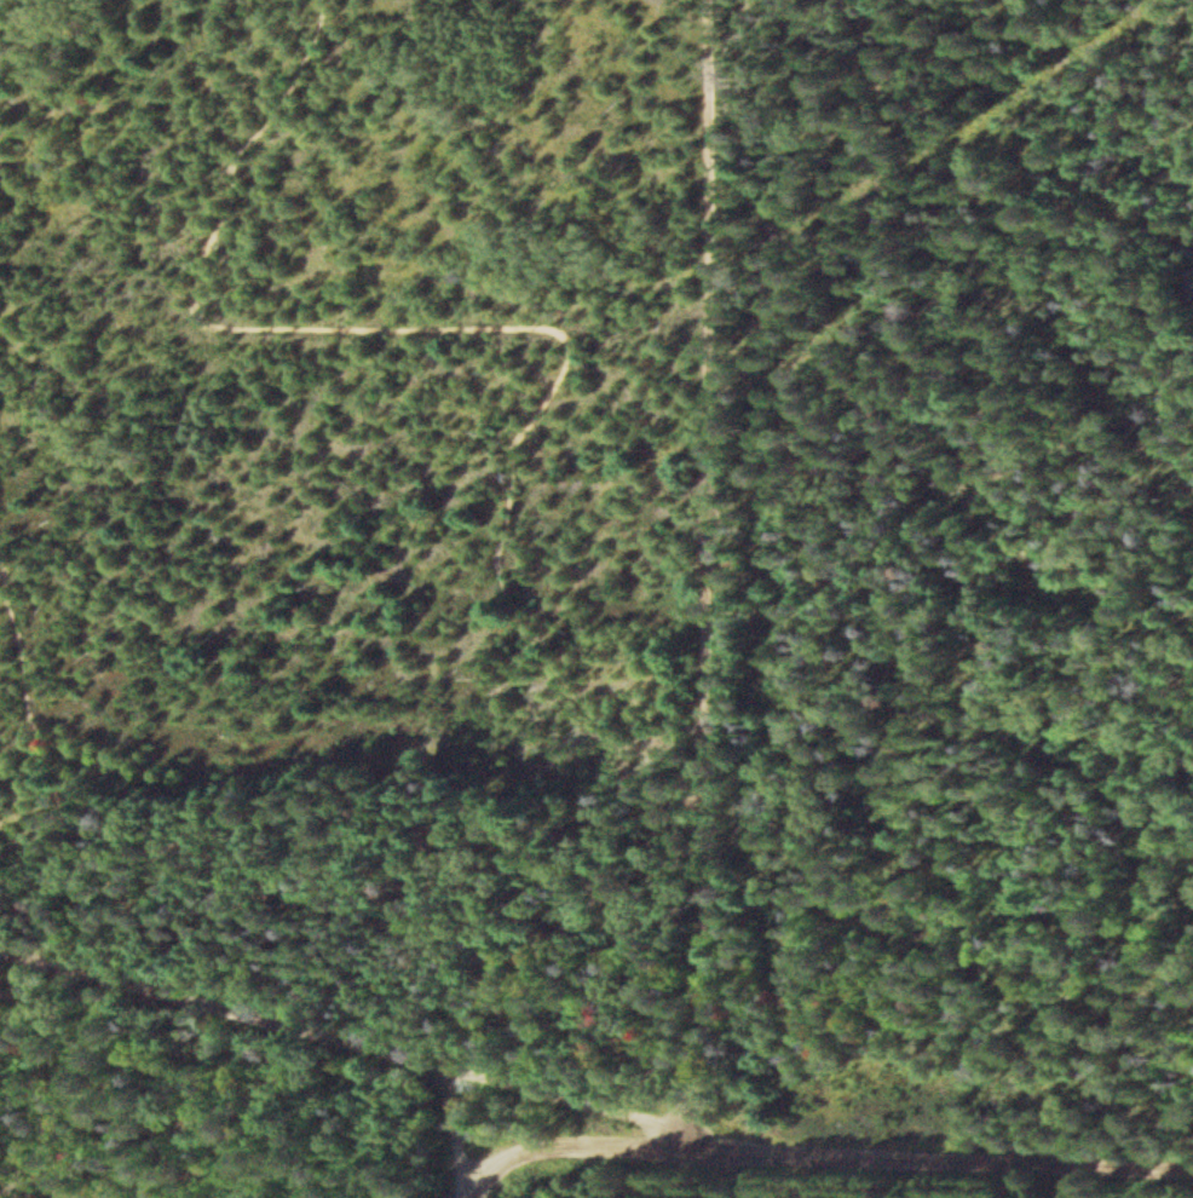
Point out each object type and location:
road: (717, 575)
road: (537, 660)
road: (225, 1012)
road: (572, 1112)
road: (454, 1136)
road: (569, 1147)
road: (945, 1156)

